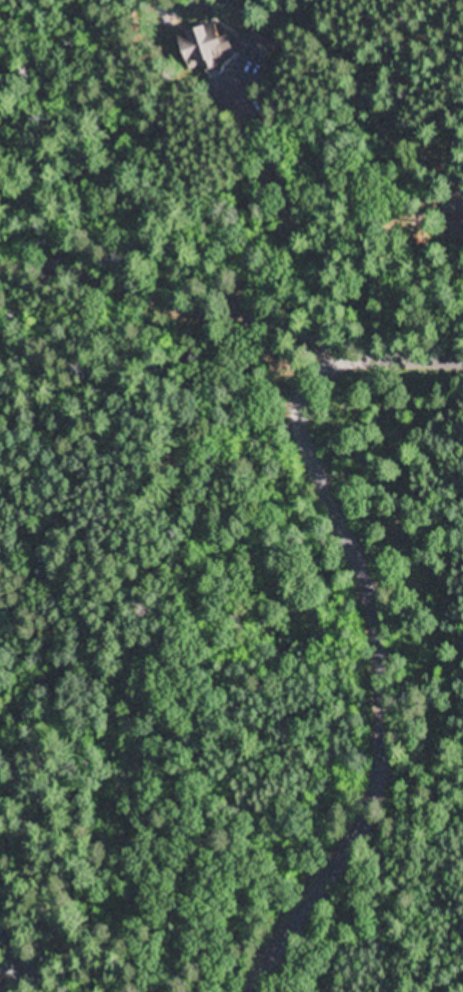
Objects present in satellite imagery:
building: (207, 46)
road: (234, 373)
road: (390, 701)
road: (35, 959)

